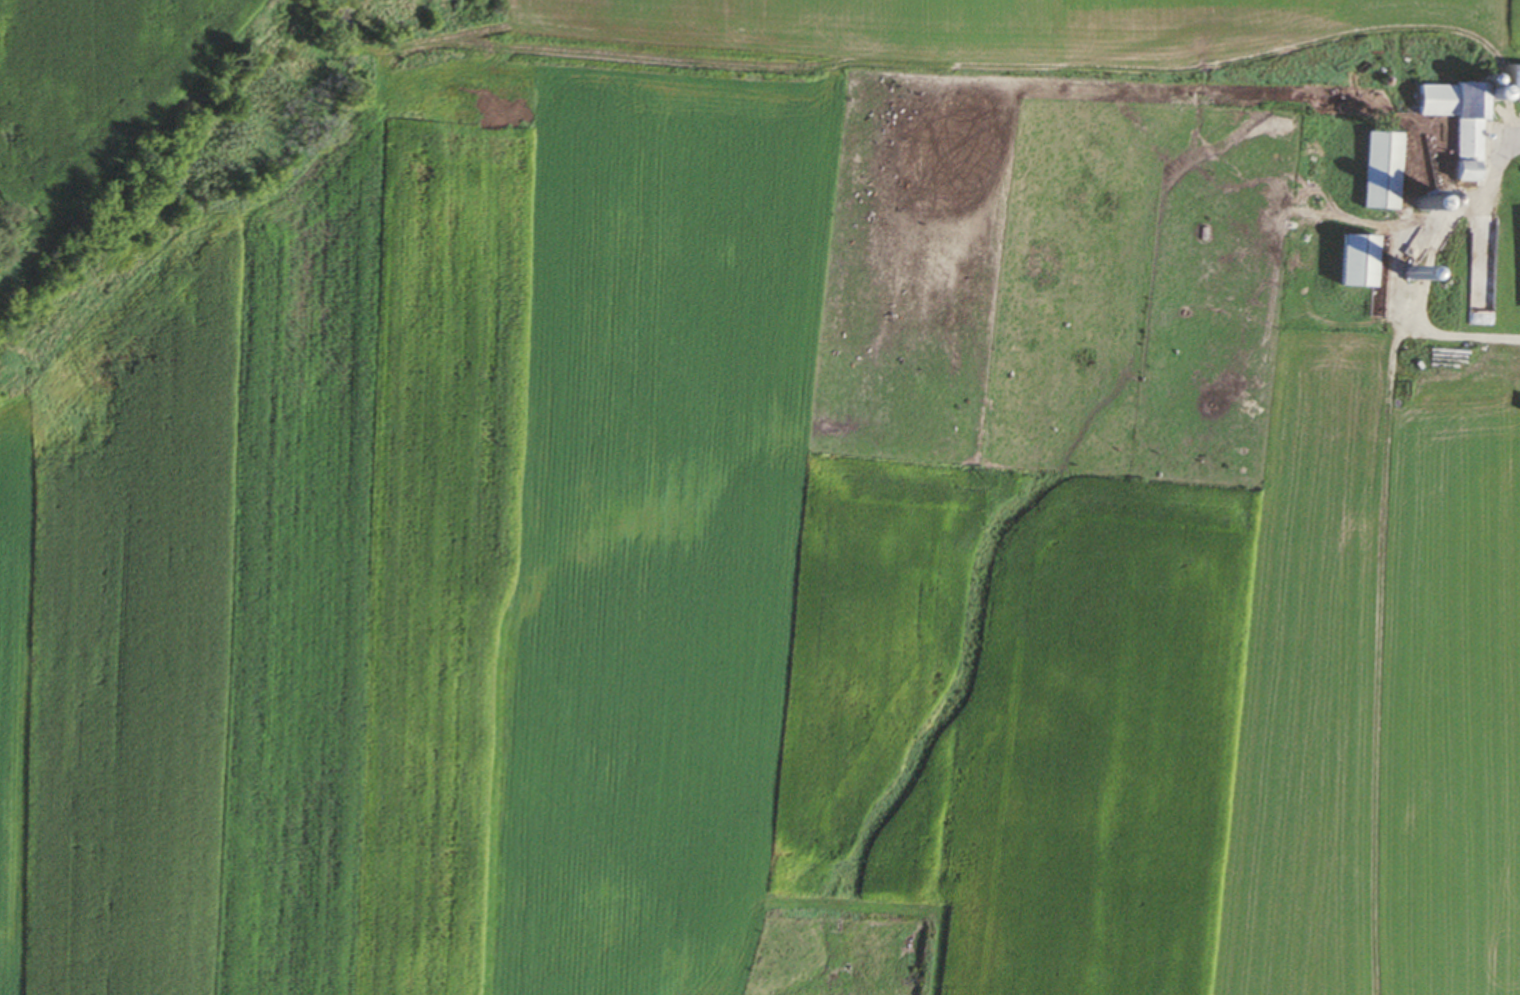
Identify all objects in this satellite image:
building: (1514, 83)
building: (1460, 121)
road: (1519, 135)
building: (1378, 170)

